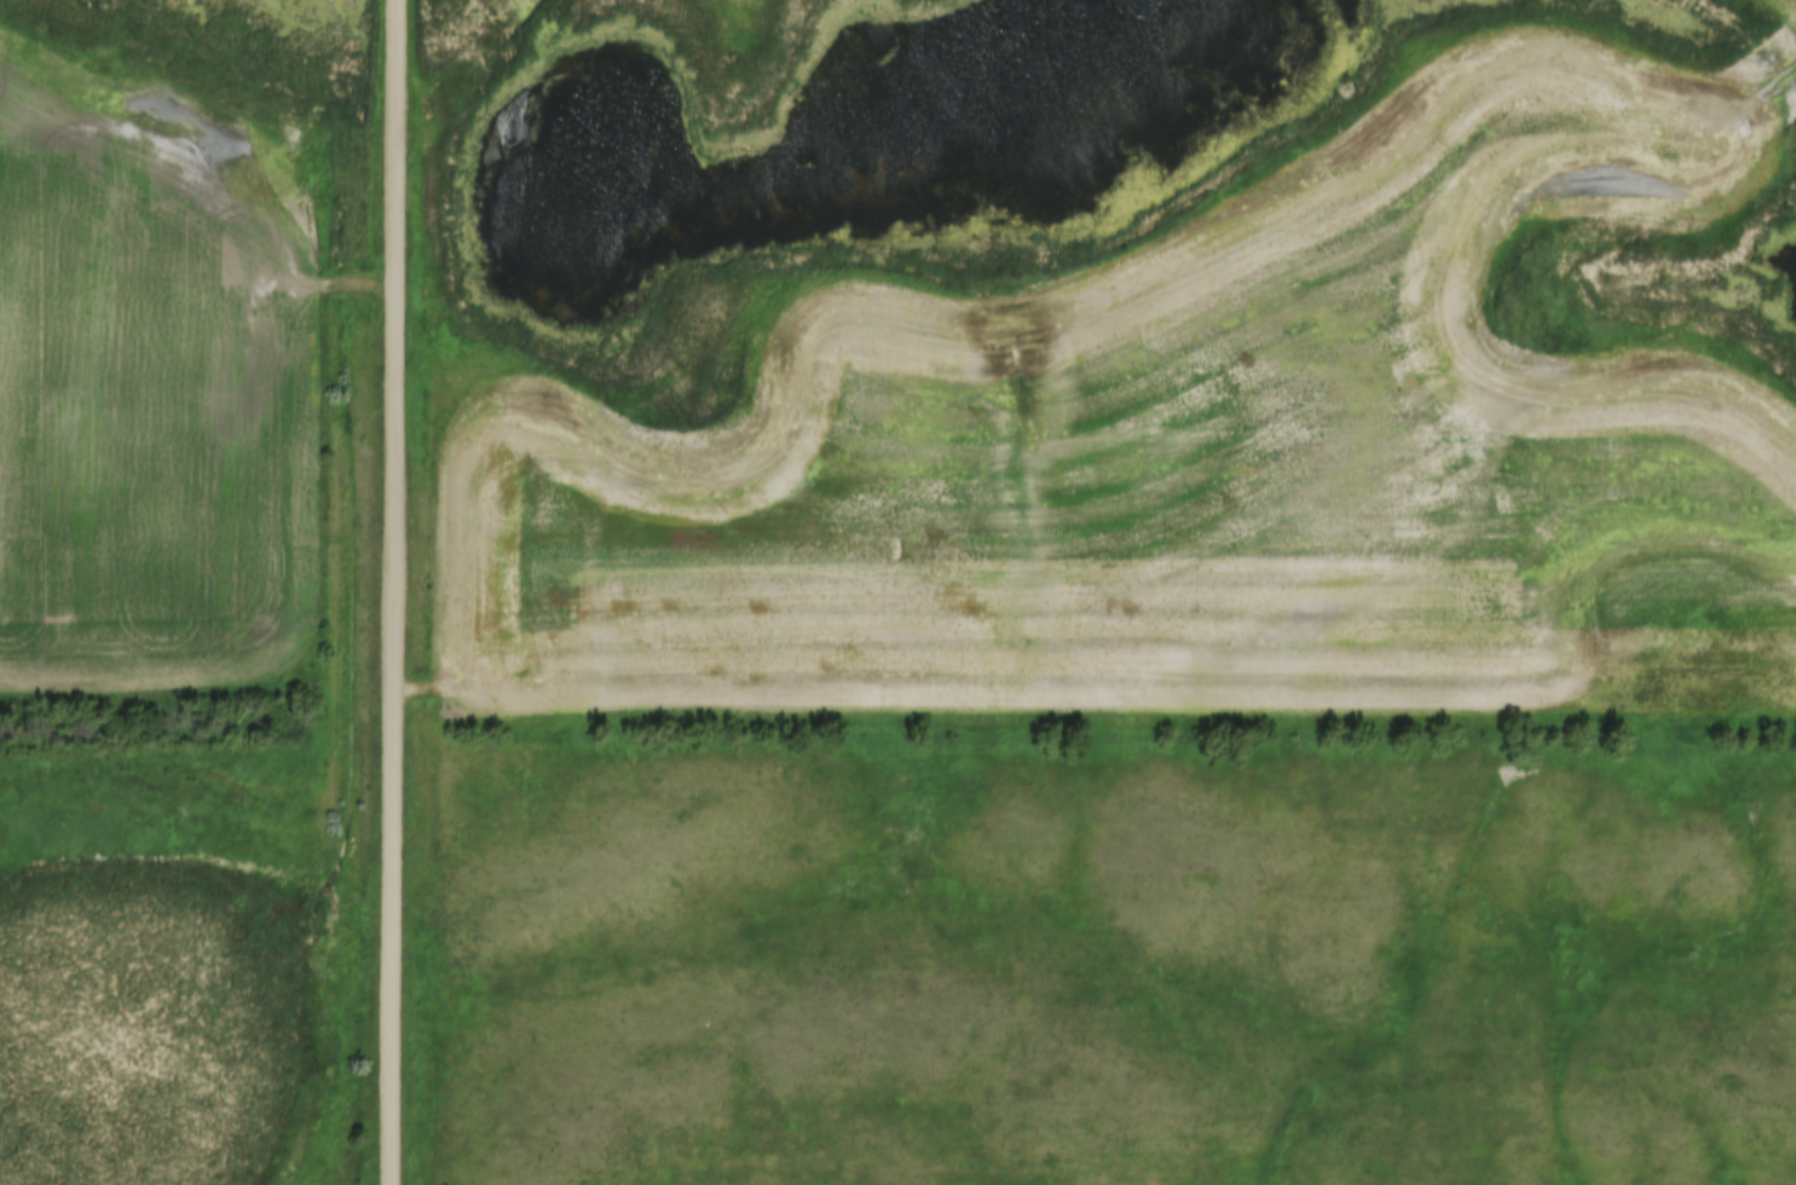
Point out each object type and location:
road: (397, 591)

